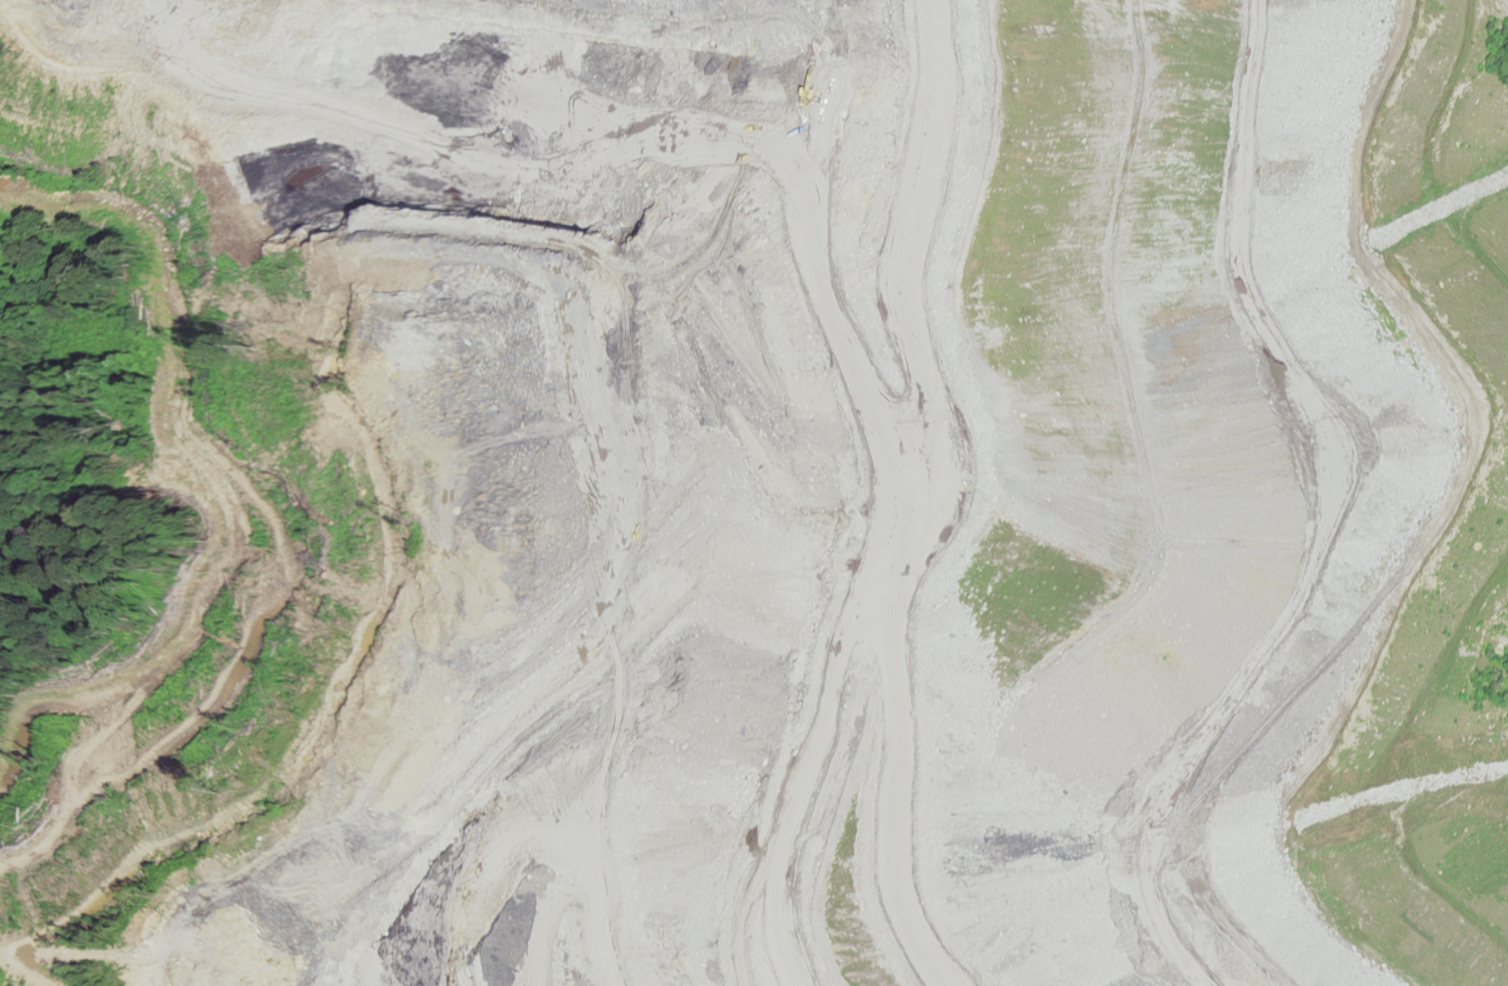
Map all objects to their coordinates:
quarry: (778, 494)

